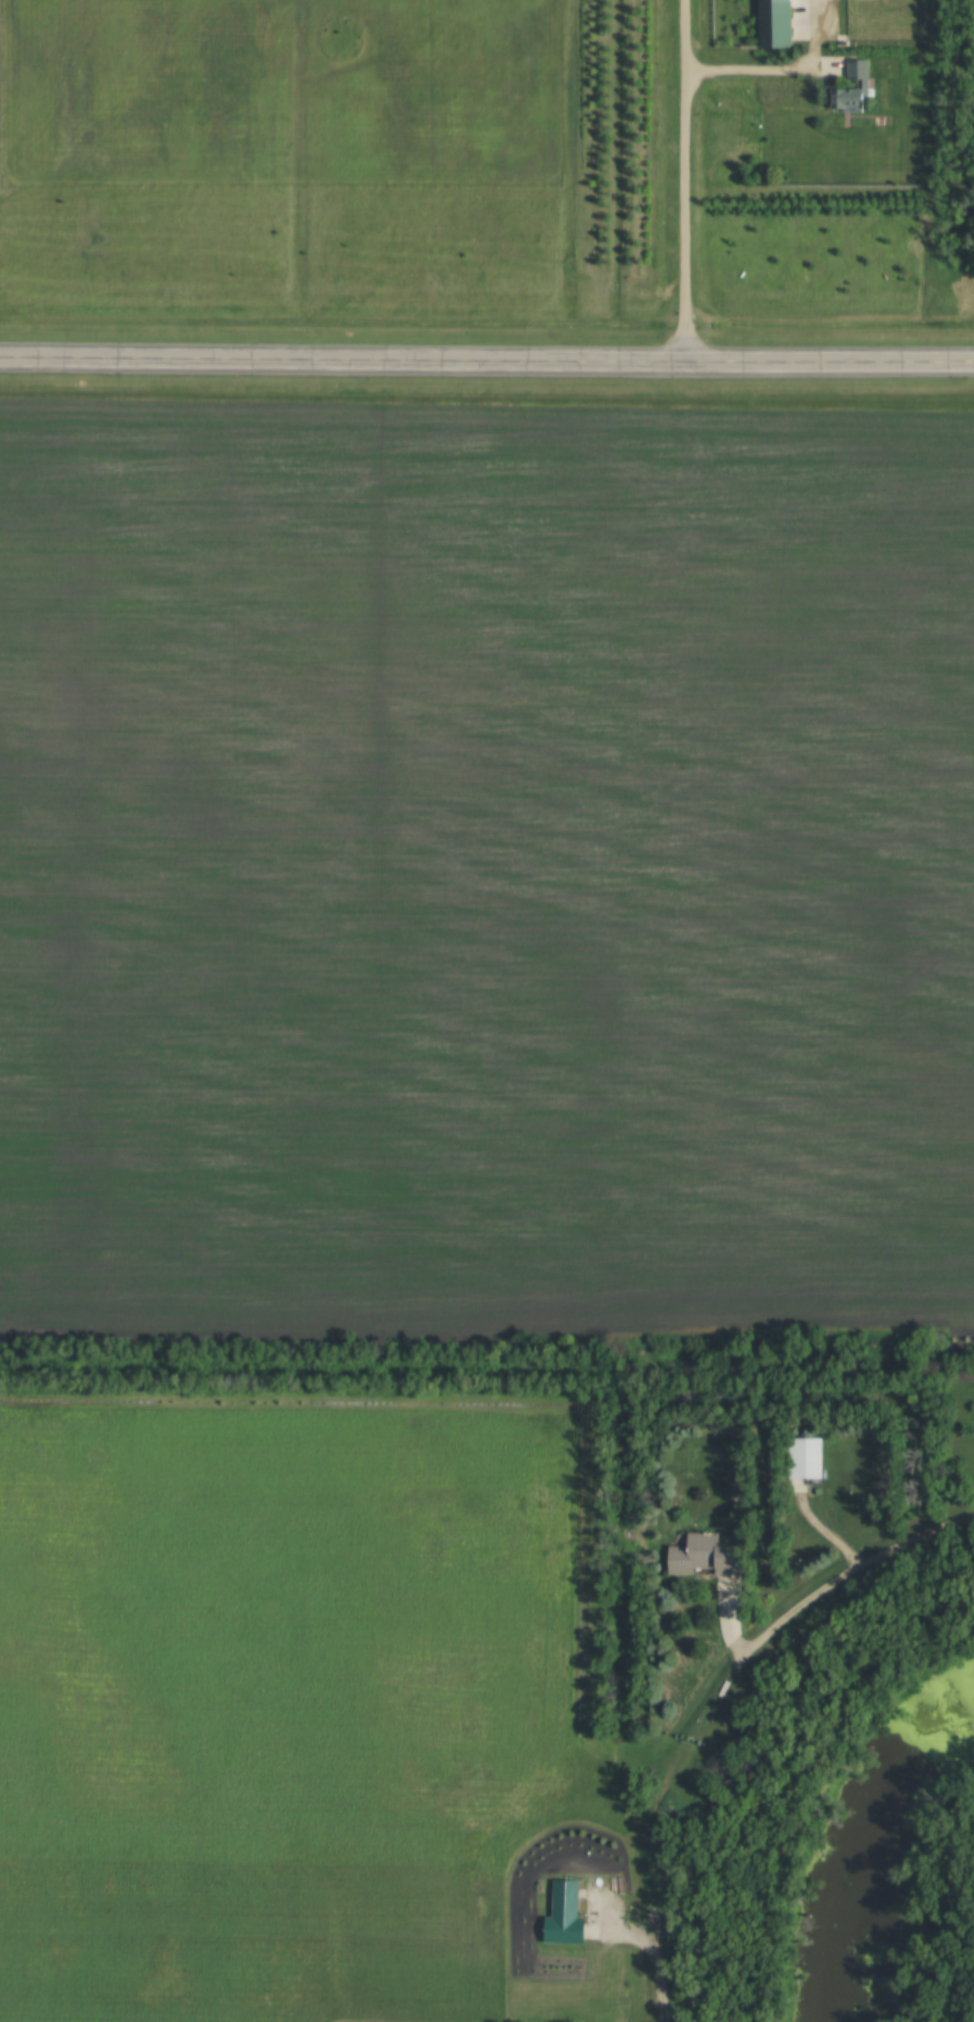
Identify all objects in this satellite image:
road: (780, 67)
building: (861, 70)
building: (849, 100)
road: (683, 181)
road: (486, 361)
building: (811, 1457)
building: (709, 1556)
road: (852, 1572)
road: (657, 1981)

